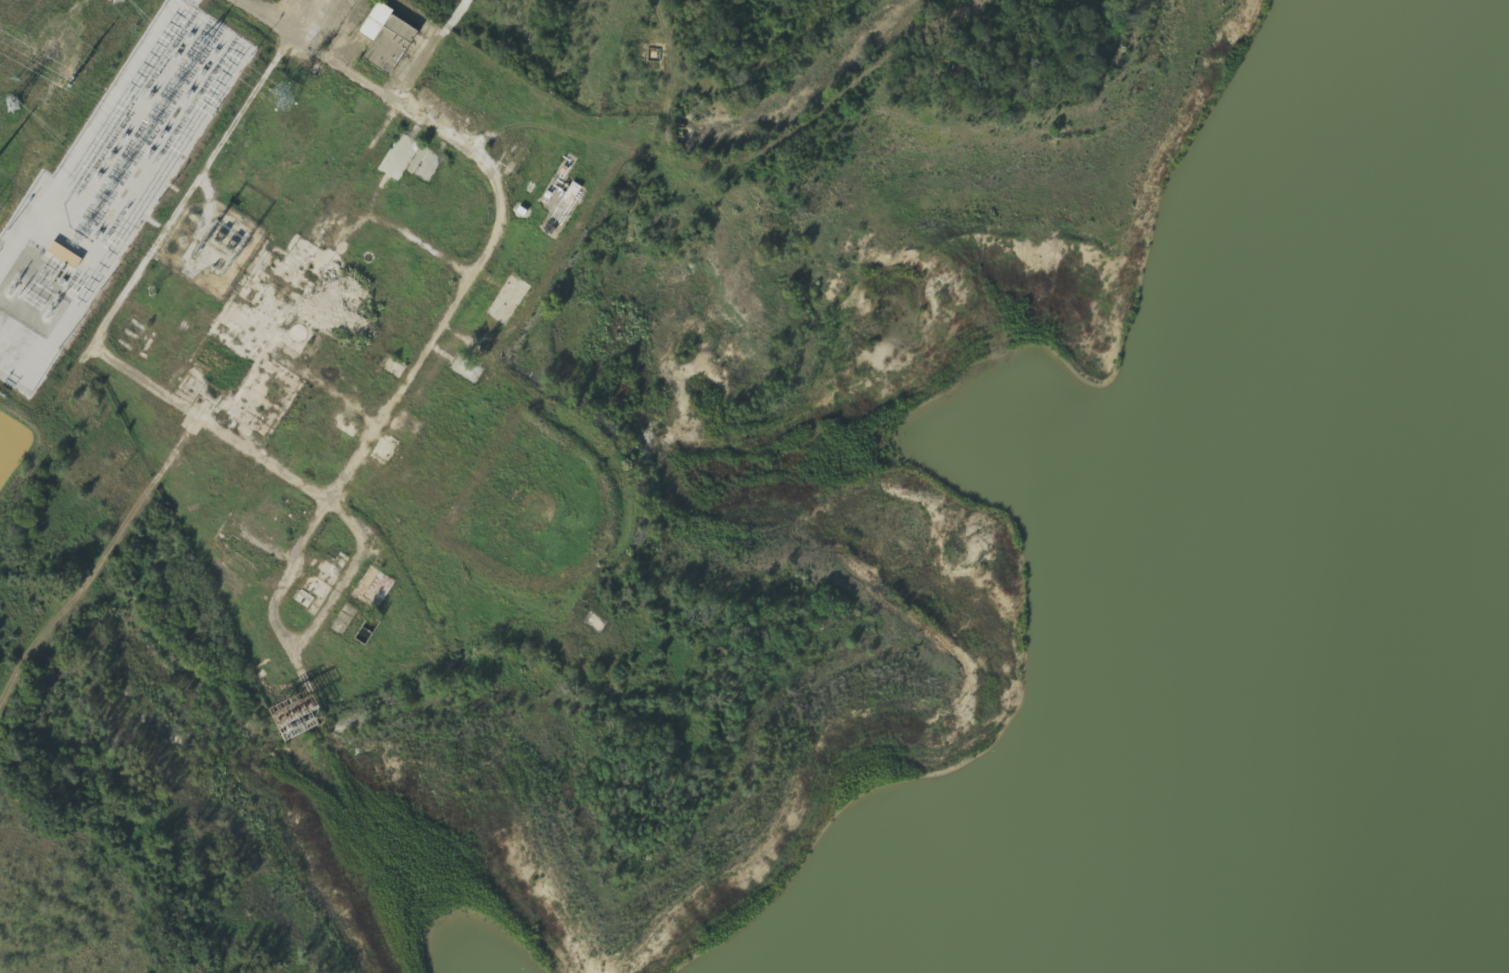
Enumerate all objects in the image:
power tower: (88, 53)
power tower: (24, 76)
power tower: (77, 82)
power tower: (283, 93)
railway: (383, 98)
power tower: (17, 104)
power substation: (114, 188)
power tower: (188, 240)
power substation: (211, 242)
building: (66, 255)
road: (439, 277)
power tower: (155, 290)
road: (115, 306)
water tower: (293, 516)

